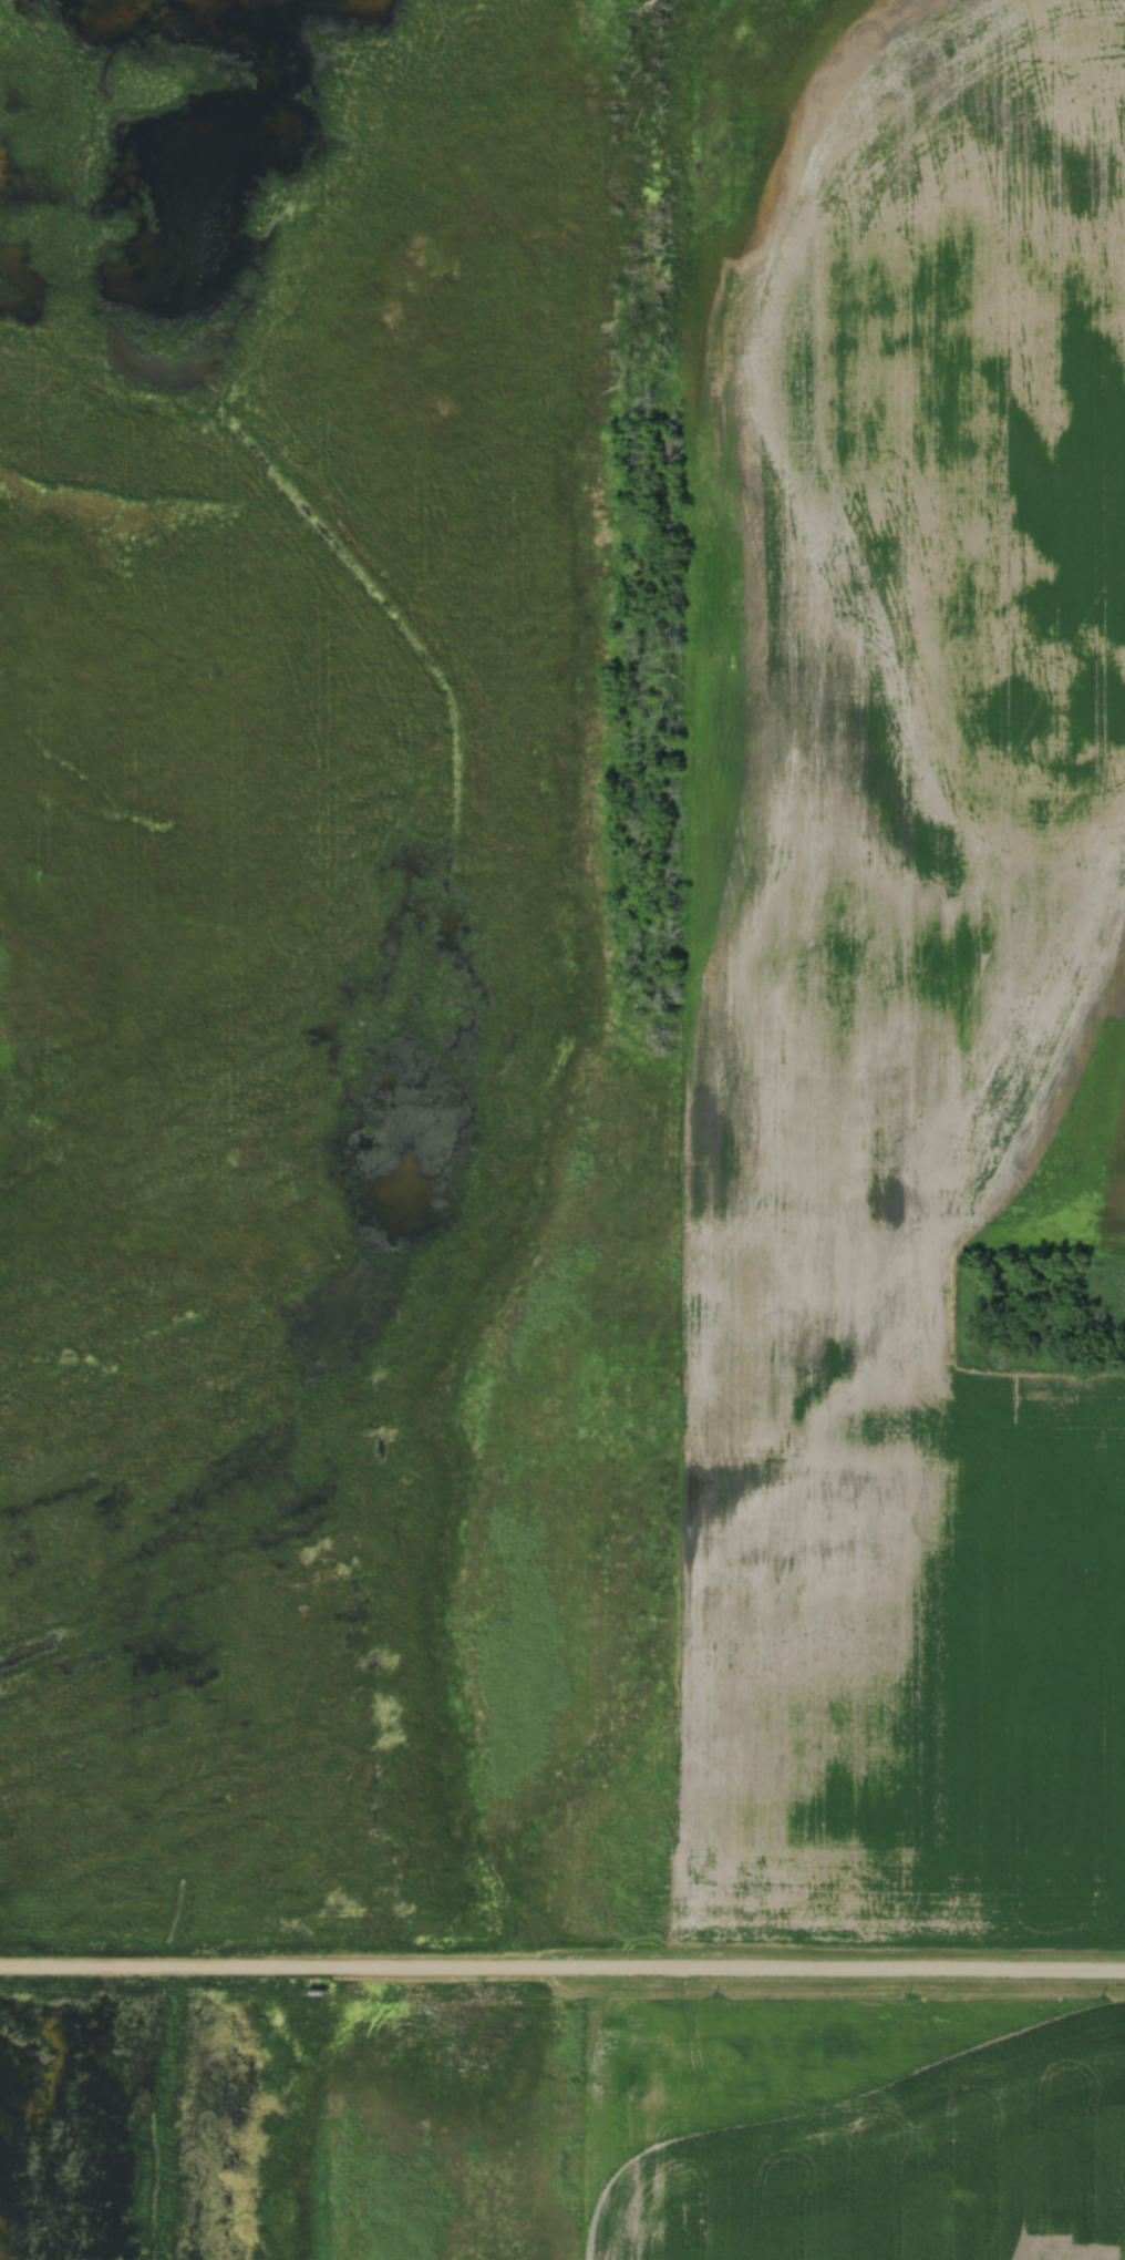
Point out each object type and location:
road: (562, 1969)

